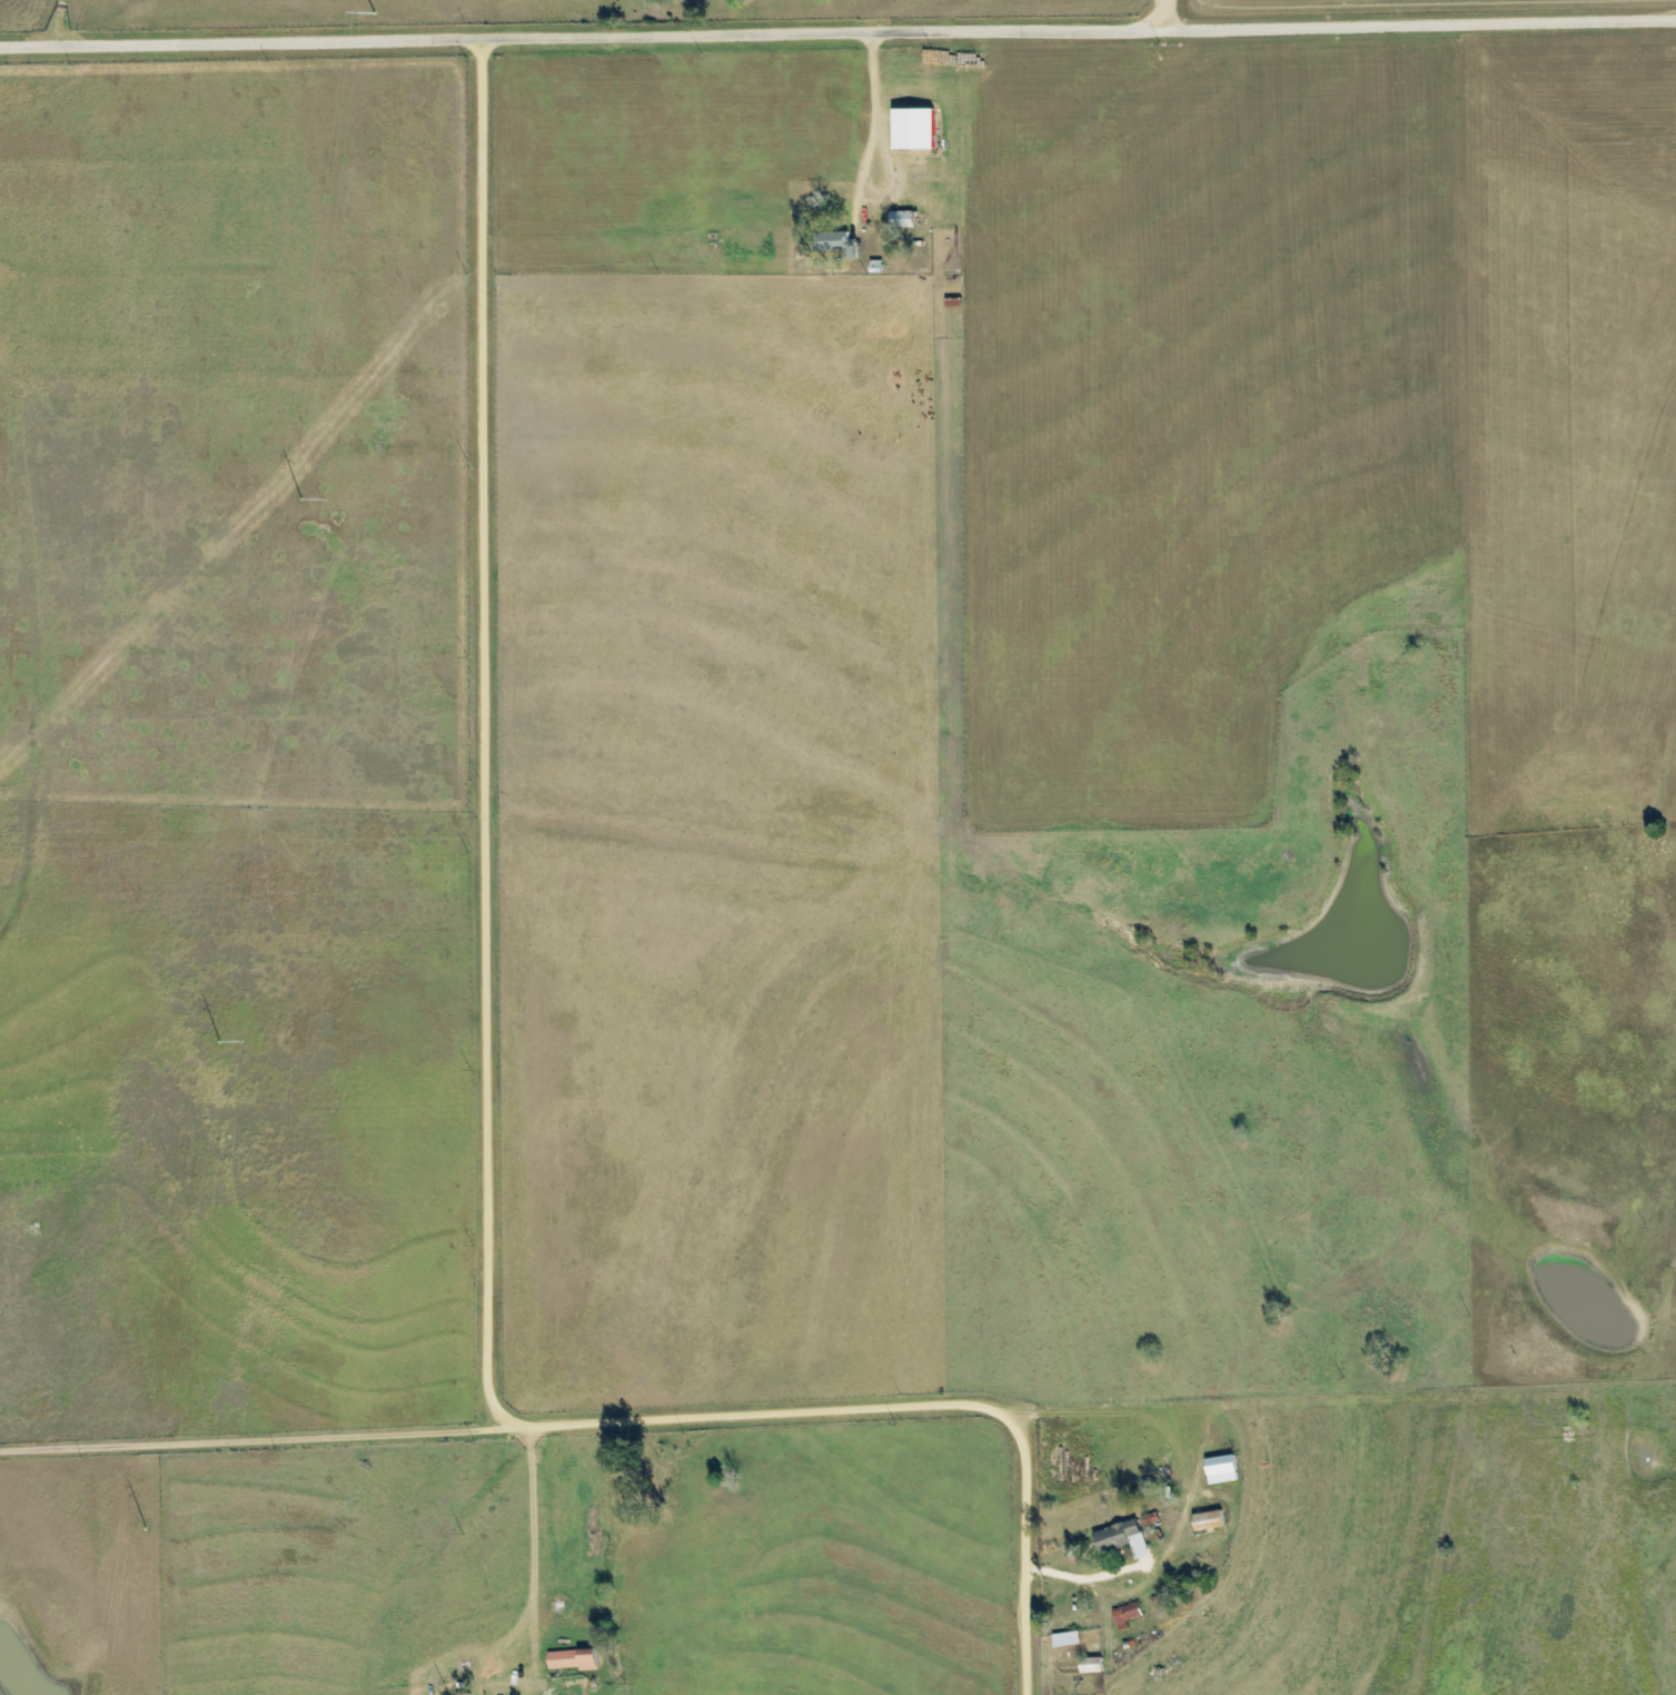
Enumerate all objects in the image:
road: (1601, 7)
power tower: (374, 13)
road: (1405, 18)
road: (56, 21)
road: (591, 34)
building: (913, 128)
building: (902, 219)
building: (832, 240)
power tower: (300, 500)
road: (490, 977)
power tower: (219, 1042)
road: (887, 1406)
building: (1221, 1469)
building: (1208, 1520)
power tower: (145, 1529)
building: (1122, 1539)
building: (1125, 1614)
building: (1067, 1639)
building: (573, 1659)

